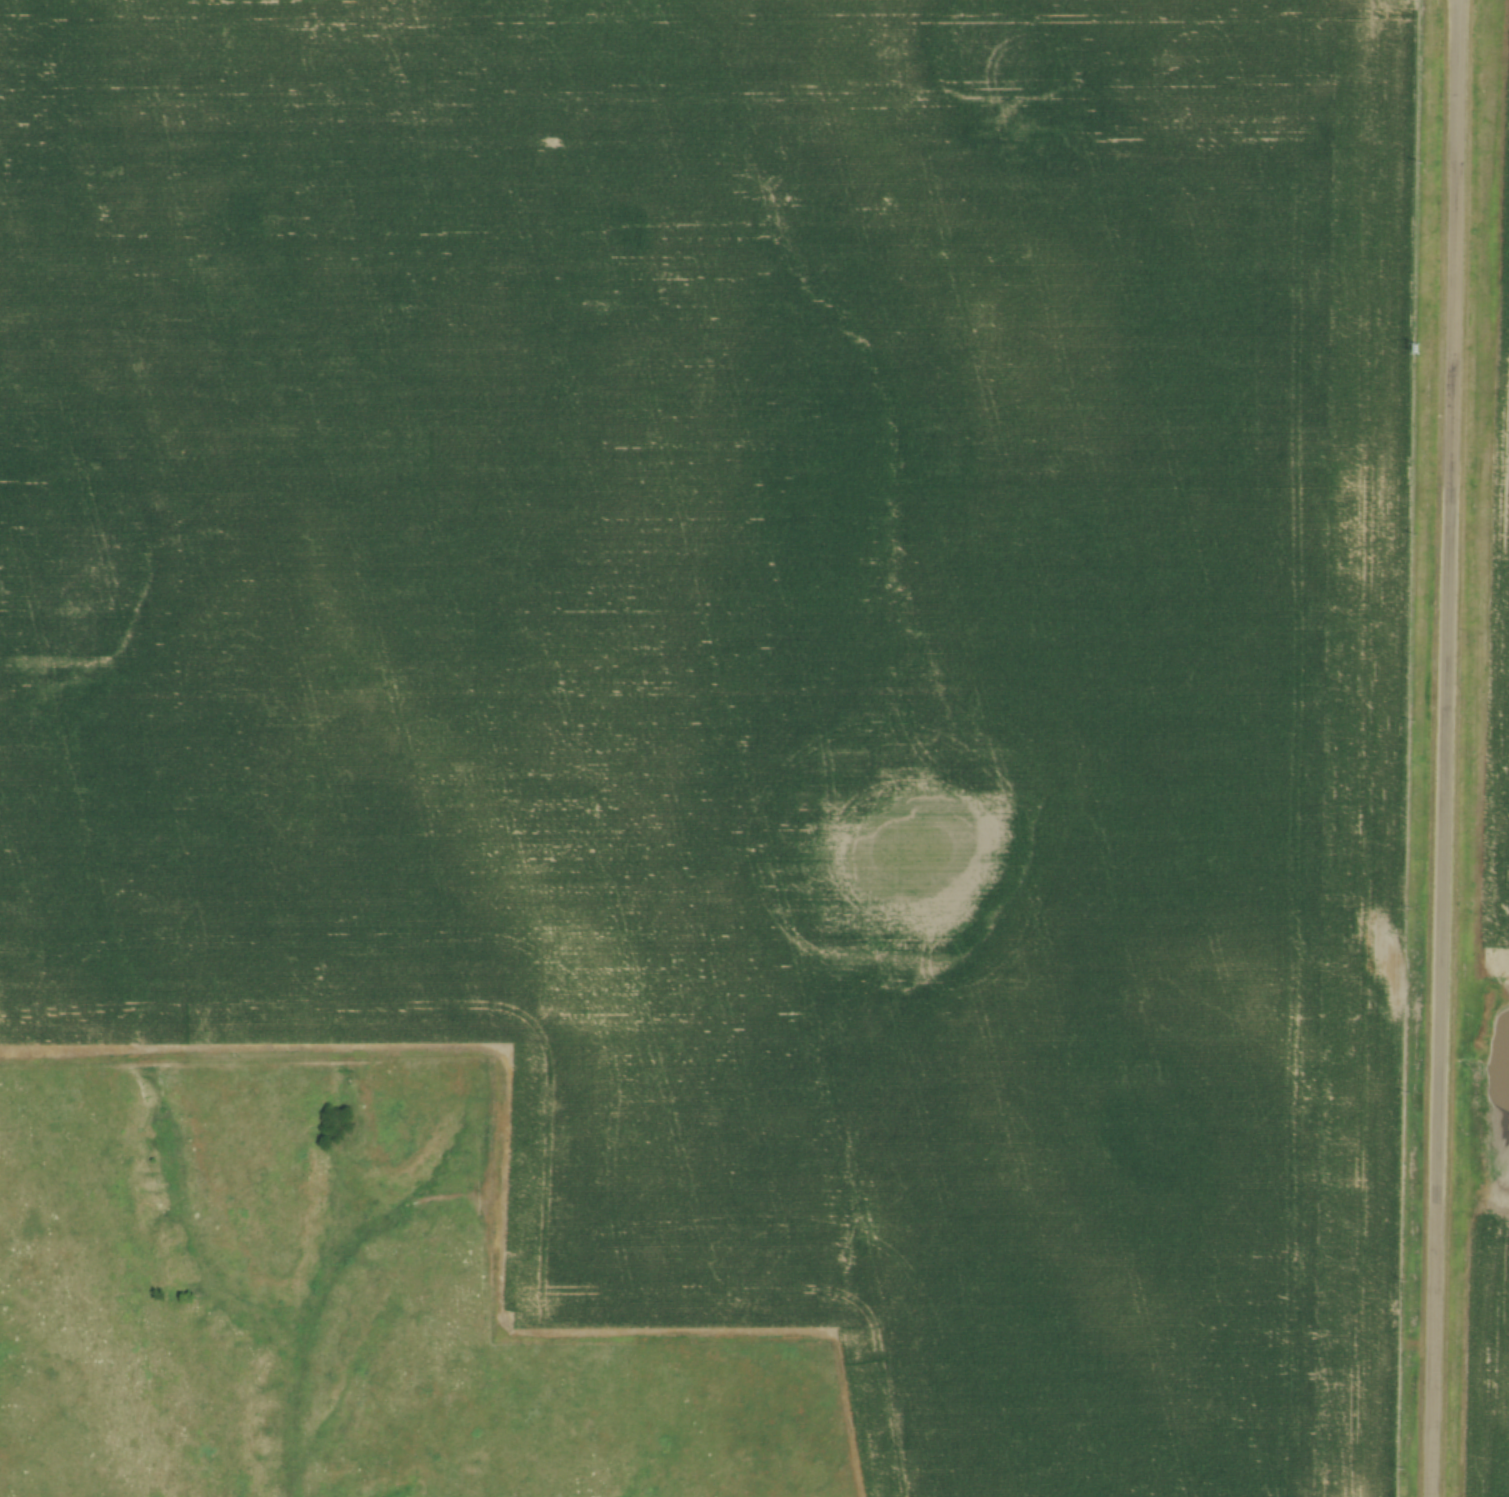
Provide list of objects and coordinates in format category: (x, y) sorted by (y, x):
road: (1445, 748)

